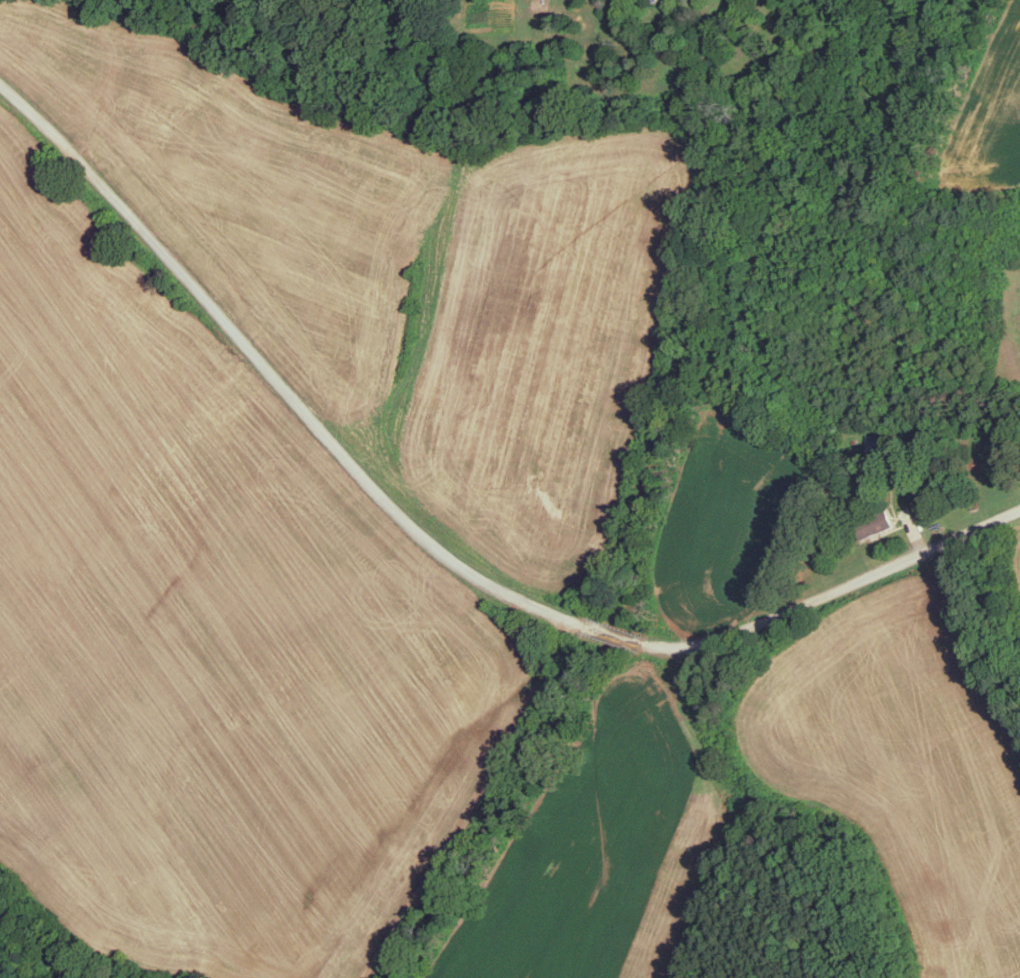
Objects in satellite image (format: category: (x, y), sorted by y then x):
crop: (55, 57)
crop: (994, 135)
crop: (429, 294)
road: (275, 378)
crop: (729, 523)
building: (881, 525)
crop: (1015, 564)
road: (833, 594)
crop: (209, 630)
road: (612, 634)
road: (554, 649)
crop: (904, 757)
road: (454, 831)
crop: (611, 851)

